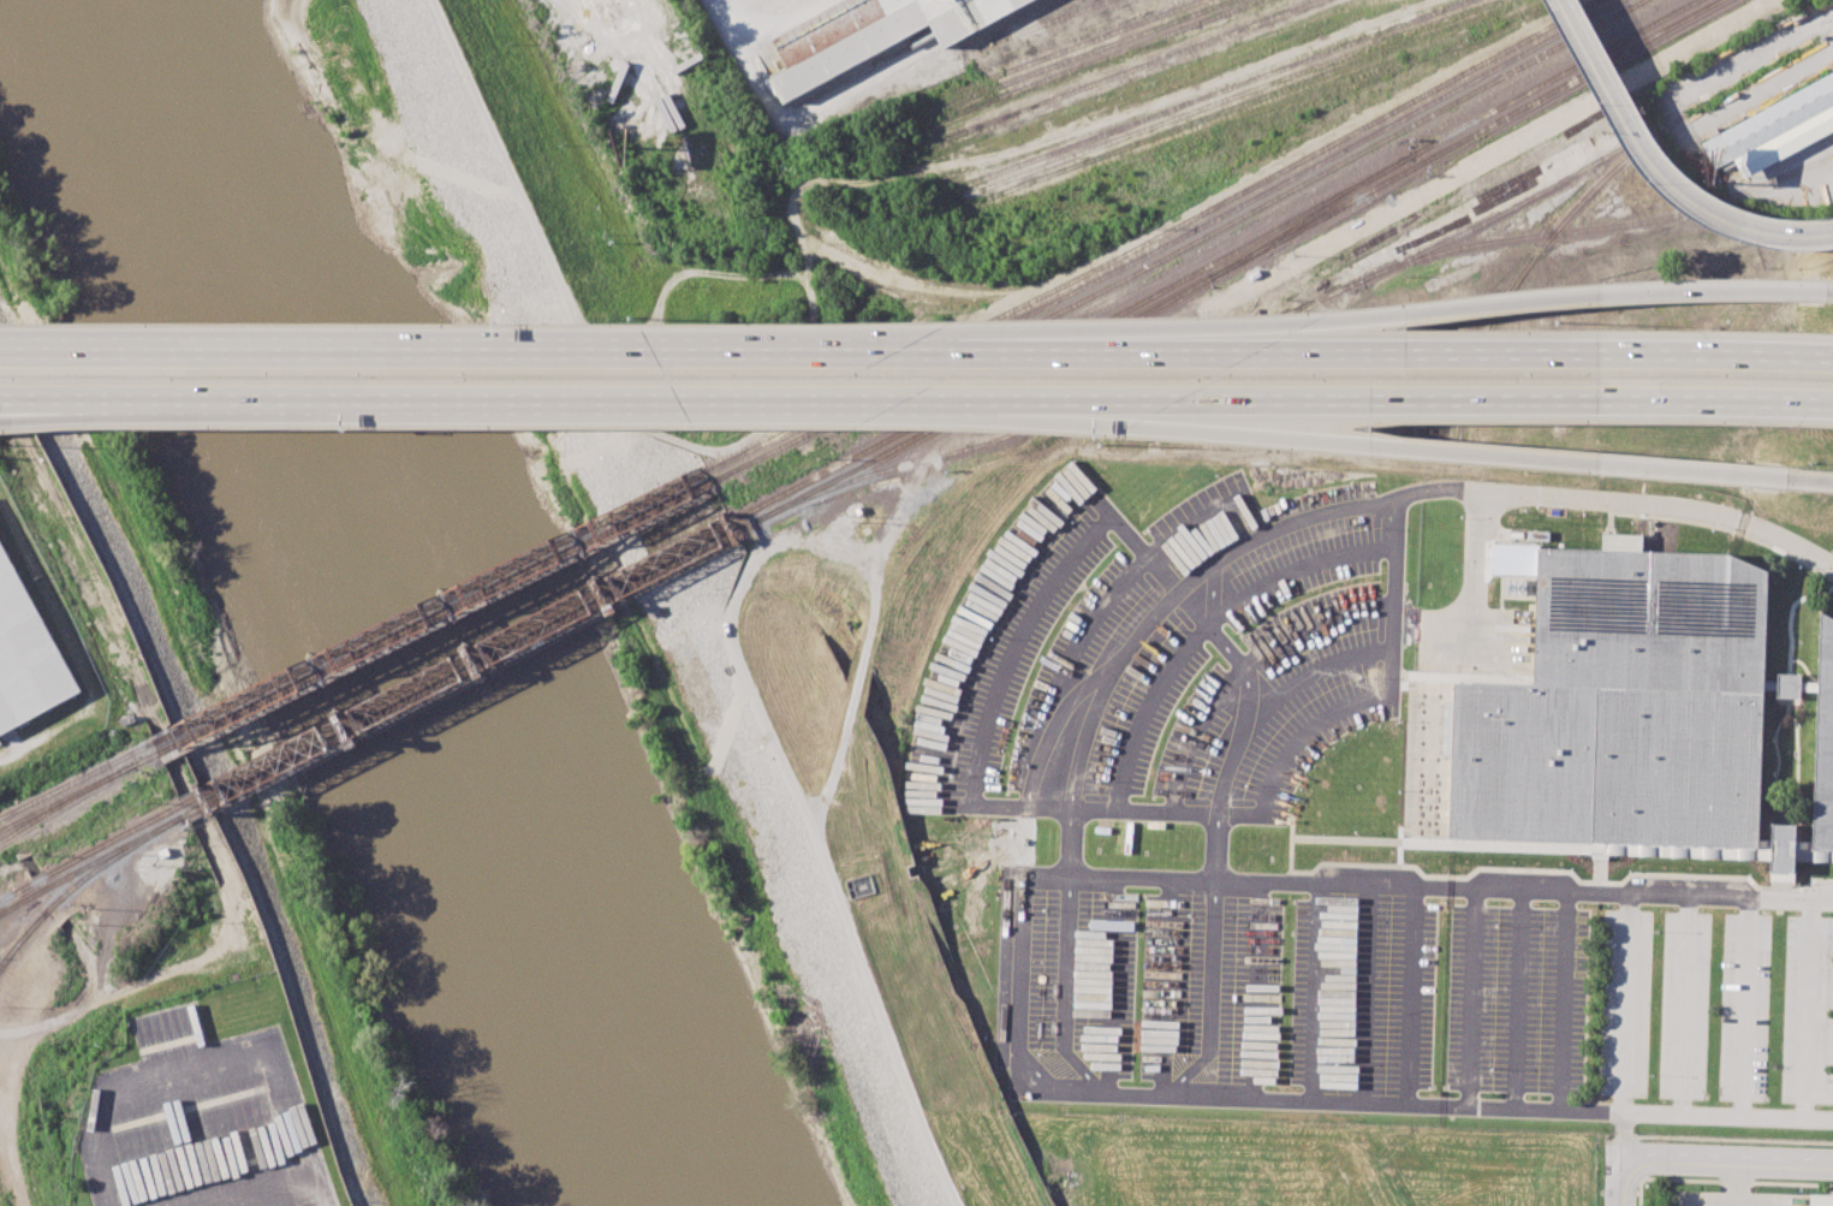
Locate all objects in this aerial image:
railway: (1052, 20)
road: (772, 22)
building: (869, 35)
railway: (1075, 46)
railway: (1077, 57)
railway: (1091, 61)
railway: (1124, 71)
railway: (862, 73)
railway: (1216, 93)
railway: (1231, 97)
railway: (1245, 102)
street lamp: (1600, 102)
building: (1770, 121)
building: (1785, 142)
railway: (1299, 160)
road: (1658, 168)
street lamp: (1658, 192)
railway: (1400, 194)
railway: (1315, 213)
railway: (1595, 227)
railway: (1168, 243)
street lamp: (1744, 243)
railway: (1182, 249)
railway: (1535, 255)
railway: (1214, 261)
railway: (1228, 266)
railway: (1309, 302)
road: (1422, 308)
road: (507, 354)
road: (1423, 355)
road: (8, 396)
road: (8, 397)
road: (535, 399)
road: (1444, 399)
road: (676, 440)
road: (1435, 448)
road: (1826, 481)
road: (1519, 493)
road: (1477, 571)
river: (404, 596)
railway: (430, 606)
railway: (436, 617)
road: (1156, 619)
road: (1190, 640)
road: (1014, 643)
building: (28, 653)
parking lot: (1155, 657)
railway: (457, 661)
road: (863, 665)
railway: (463, 672)
building: (1789, 685)
building: (1627, 711)
road: (1250, 723)
road: (1292, 744)
building: (1825, 747)
railway: (77, 779)
railway: (79, 791)
road: (799, 798)
railway: (67, 802)
railway: (90, 851)
railway: (93, 863)
railway: (103, 863)
road: (19, 866)
railway: (22, 937)
railway: (22, 940)
parking lot: (1416, 981)
road: (1024, 984)
road: (1064, 991)
road: (1369, 996)
road: (1209, 997)
road: (1411, 997)
road: (88, 998)
road: (1471, 999)
road: (1517, 1002)
road: (1564, 1003)
road: (1625, 1005)
road: (1685, 1008)
road: (1745, 1010)
road: (1808, 1011)
road: (5, 1033)
road: (219, 1070)
road: (6, 1121)
parking lot: (202, 1122)
road: (1724, 1163)
road: (1614, 1182)
building: (1821, 1200)
parking lot: (1708, 1201)

